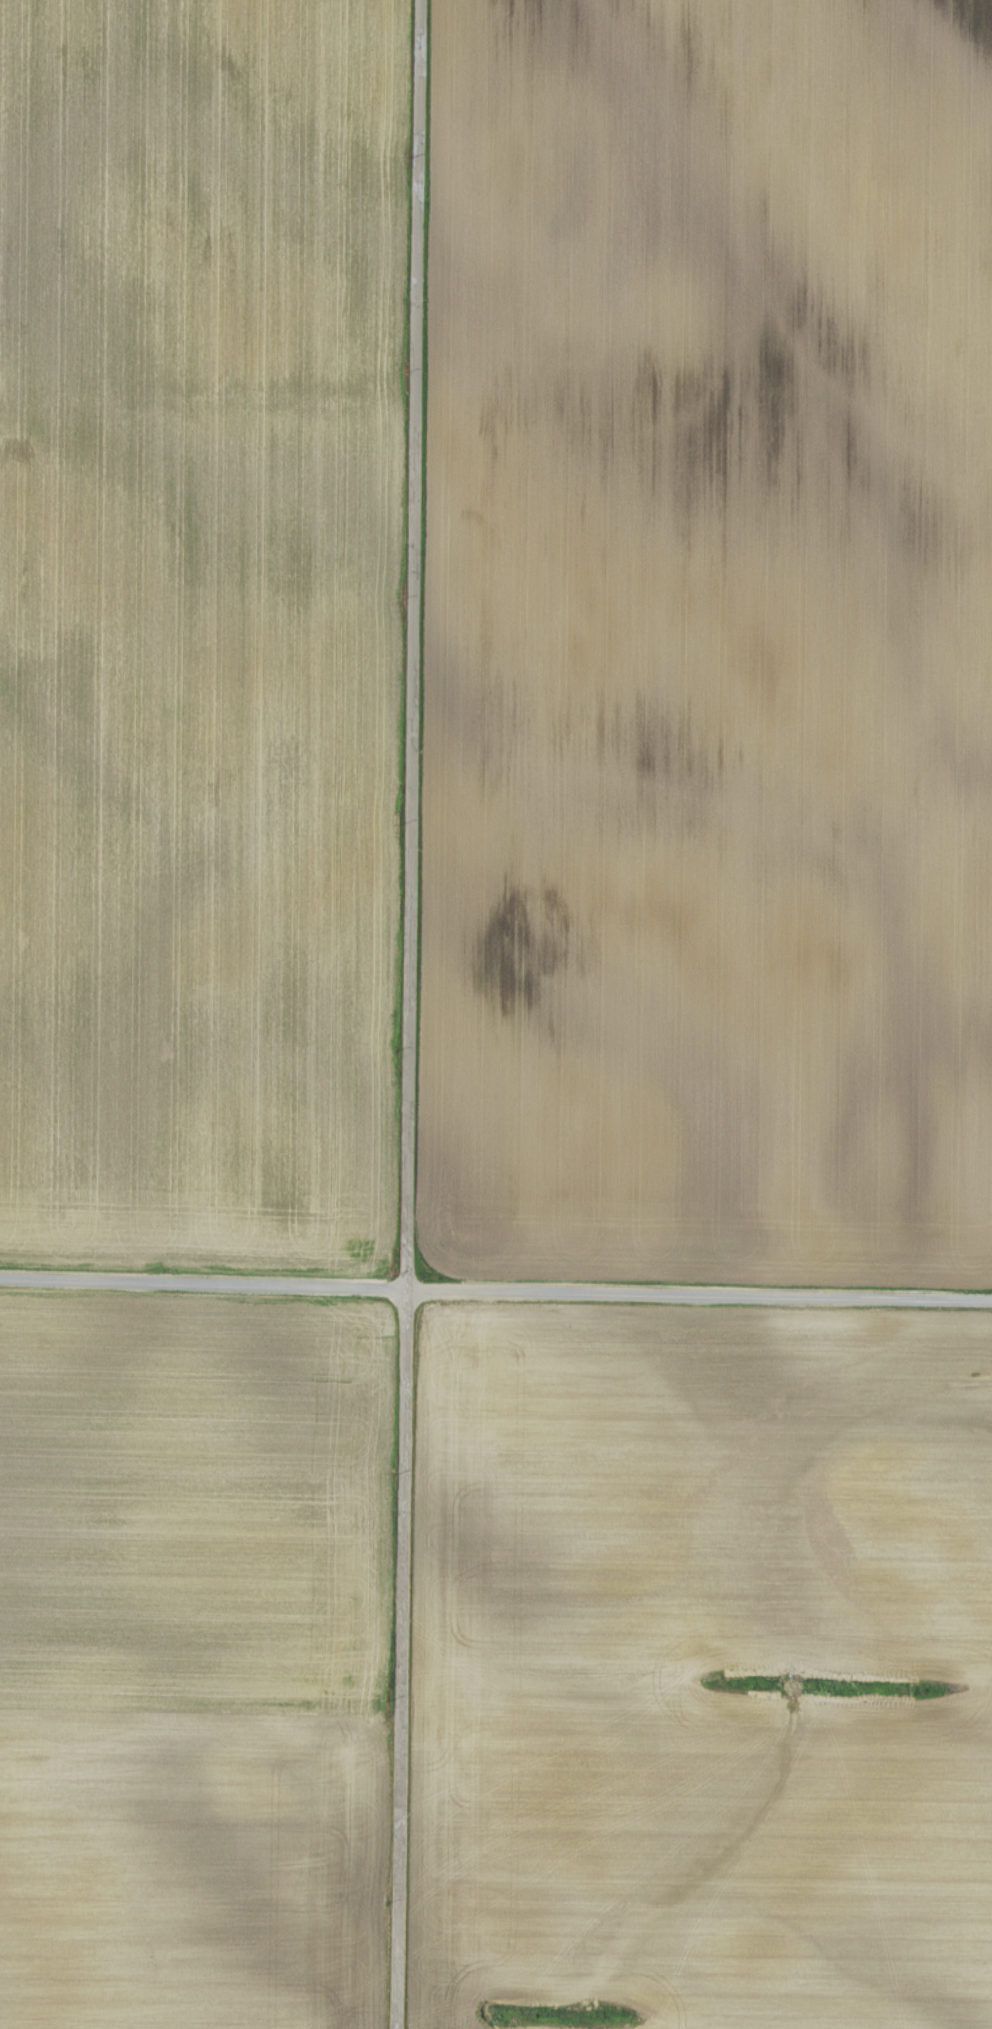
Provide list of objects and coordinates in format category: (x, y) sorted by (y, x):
road: (406, 1014)
road: (495, 1293)

